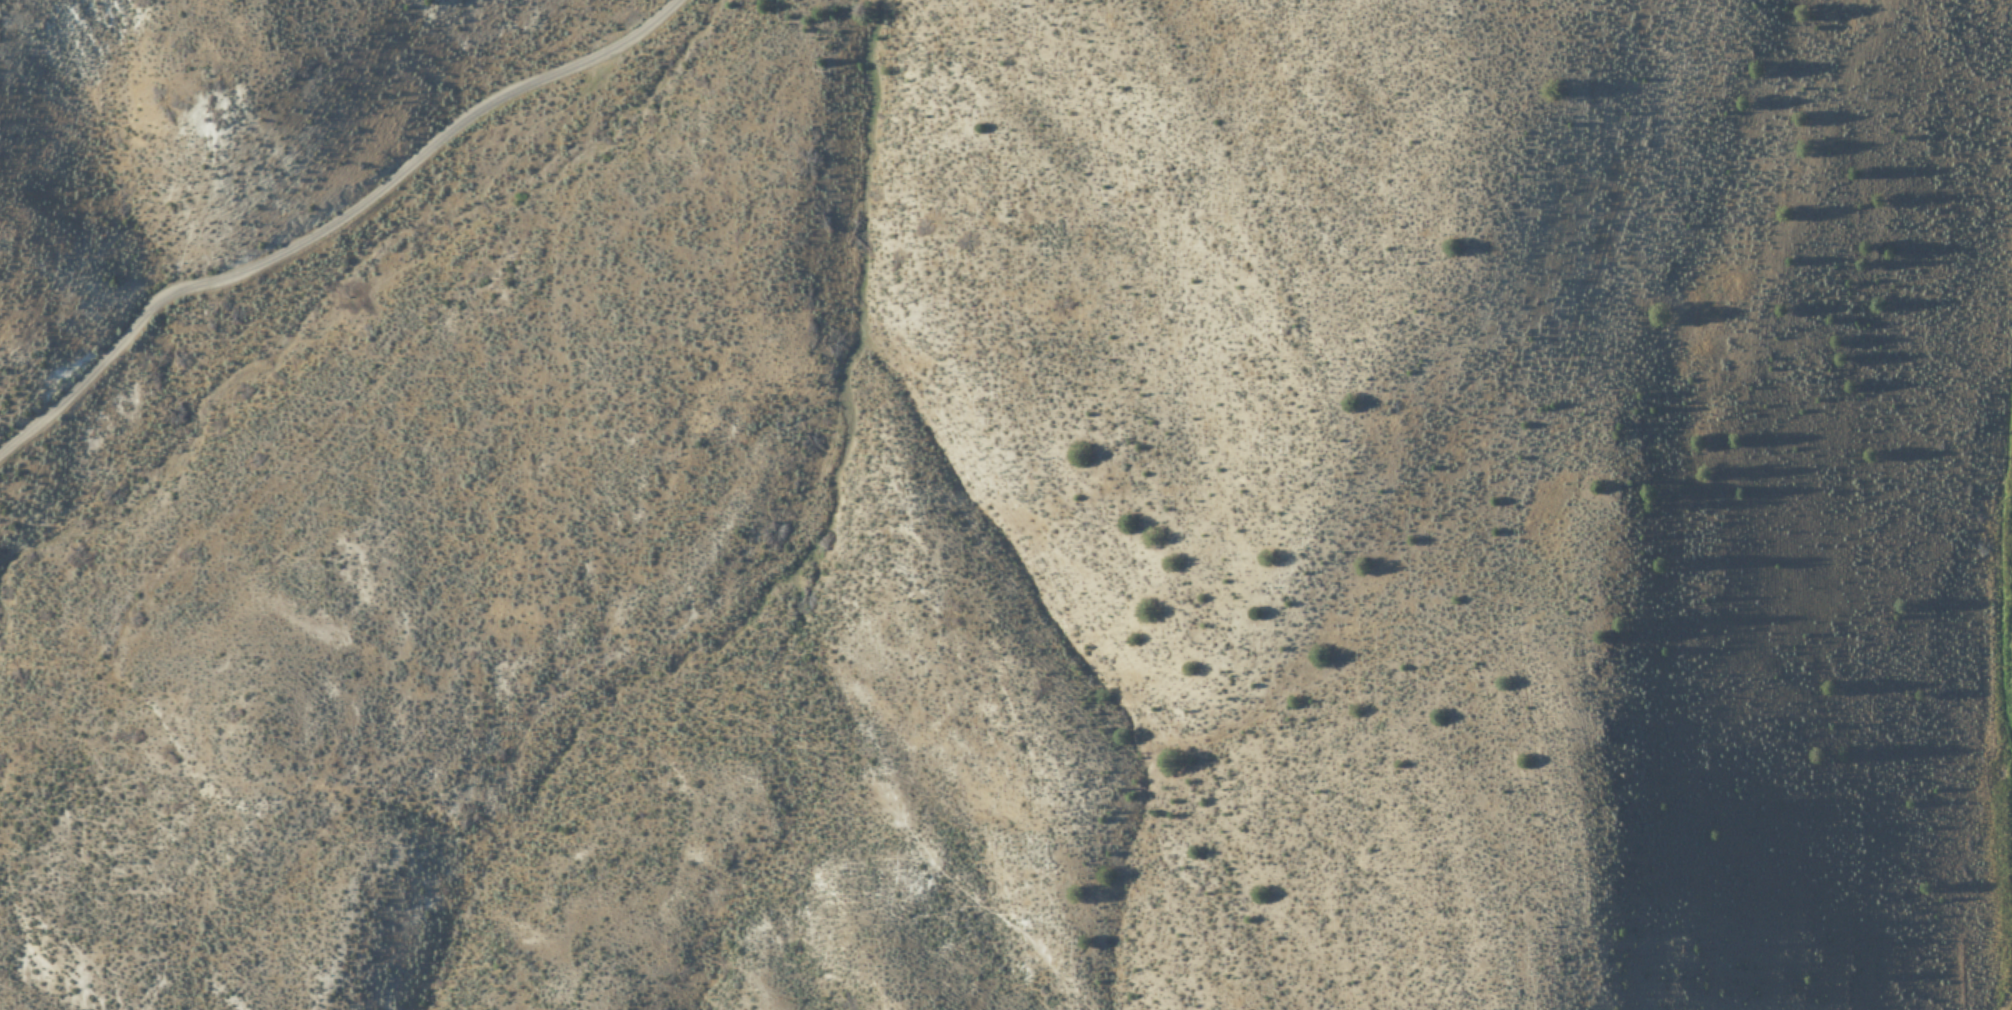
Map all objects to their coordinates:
road: (290, 202)

